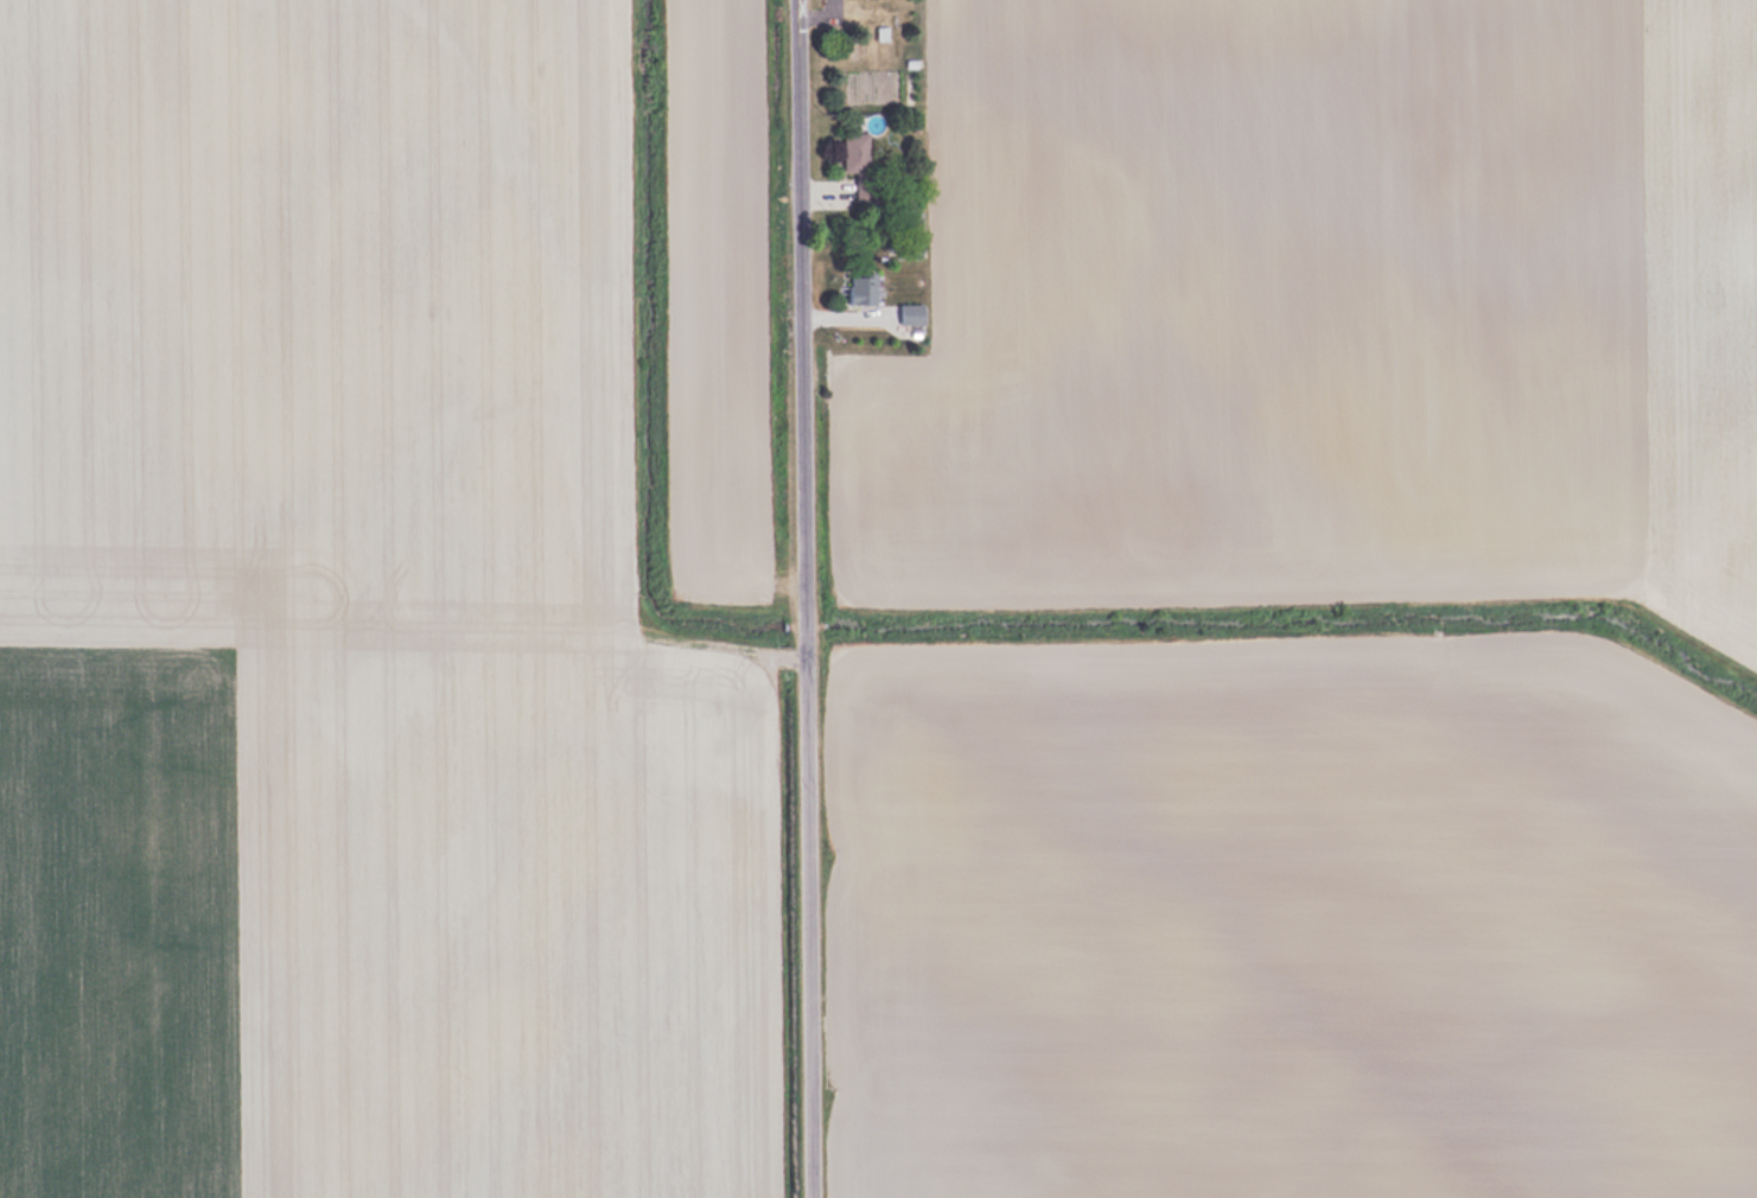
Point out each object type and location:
building: (859, 163)
building: (862, 288)
building: (911, 313)
road: (808, 598)

